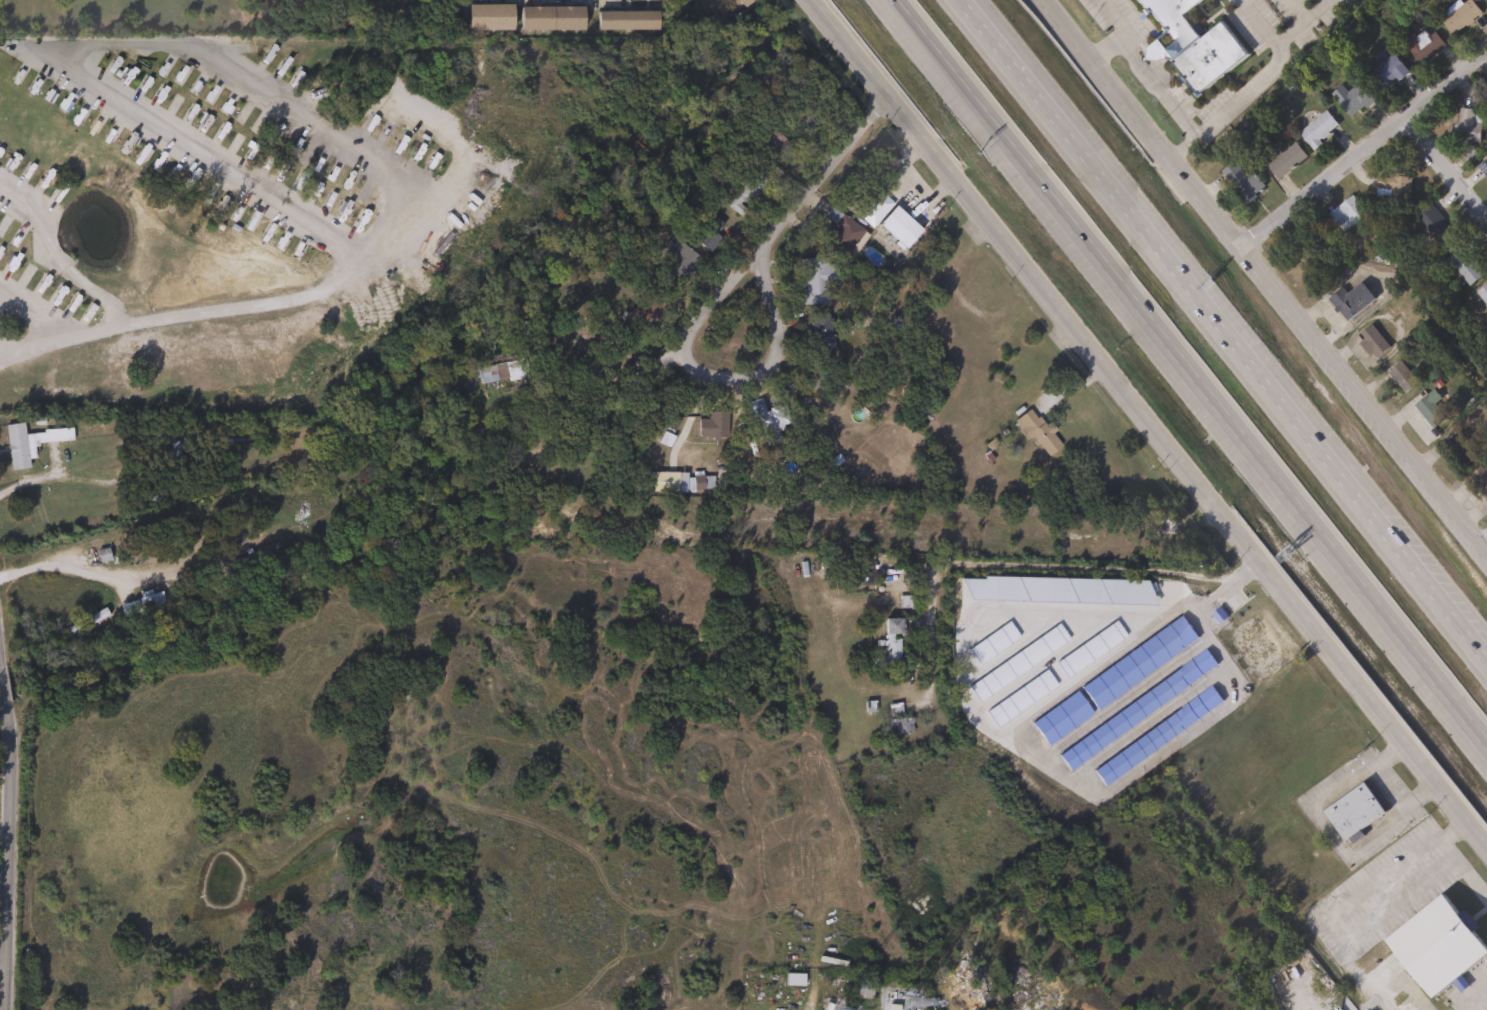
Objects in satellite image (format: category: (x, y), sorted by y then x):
building: (1485, 1)
building: (743, 3)
building: (1457, 17)
building: (490, 18)
building: (551, 19)
building: (626, 21)
road: (1123, 32)
road: (1134, 39)
building: (1190, 44)
building: (1419, 46)
road: (1148, 52)
building: (1389, 71)
road: (232, 72)
road: (1254, 86)
building: (1484, 91)
building: (1352, 97)
road: (1165, 100)
building: (1466, 125)
building: (1318, 129)
road: (1364, 146)
building: (1285, 160)
building: (1482, 168)
road: (1442, 173)
road: (825, 175)
building: (1240, 181)
building: (1392, 187)
building: (745, 194)
building: (1346, 213)
building: (1433, 226)
building: (898, 227)
building: (707, 233)
building: (674, 258)
building: (1465, 266)
road: (1266, 276)
building: (814, 280)
building: (1483, 294)
road: (96, 296)
building: (1349, 301)
building: (525, 332)
road: (1220, 334)
building: (820, 337)
building: (1371, 341)
road: (783, 359)
building: (497, 372)
road: (1189, 376)
building: (1400, 377)
road: (608, 387)
building: (1427, 408)
building: (764, 420)
road: (1149, 423)
building: (711, 426)
building: (1036, 434)
building: (27, 444)
building: (1457, 449)
building: (170, 465)
building: (1479, 481)
building: (663, 483)
building: (352, 505)
building: (1162, 526)
road: (64, 569)
building: (143, 610)
building: (891, 645)
building: (1137, 662)
building: (1136, 709)
building: (1059, 719)
building: (898, 721)
building: (1156, 735)
building: (1351, 811)
road: (3, 841)
road: (1462, 871)
road: (1397, 900)
road: (1350, 901)
building: (1433, 945)
building: (862, 990)
road: (1471, 993)
building: (1338, 1009)

